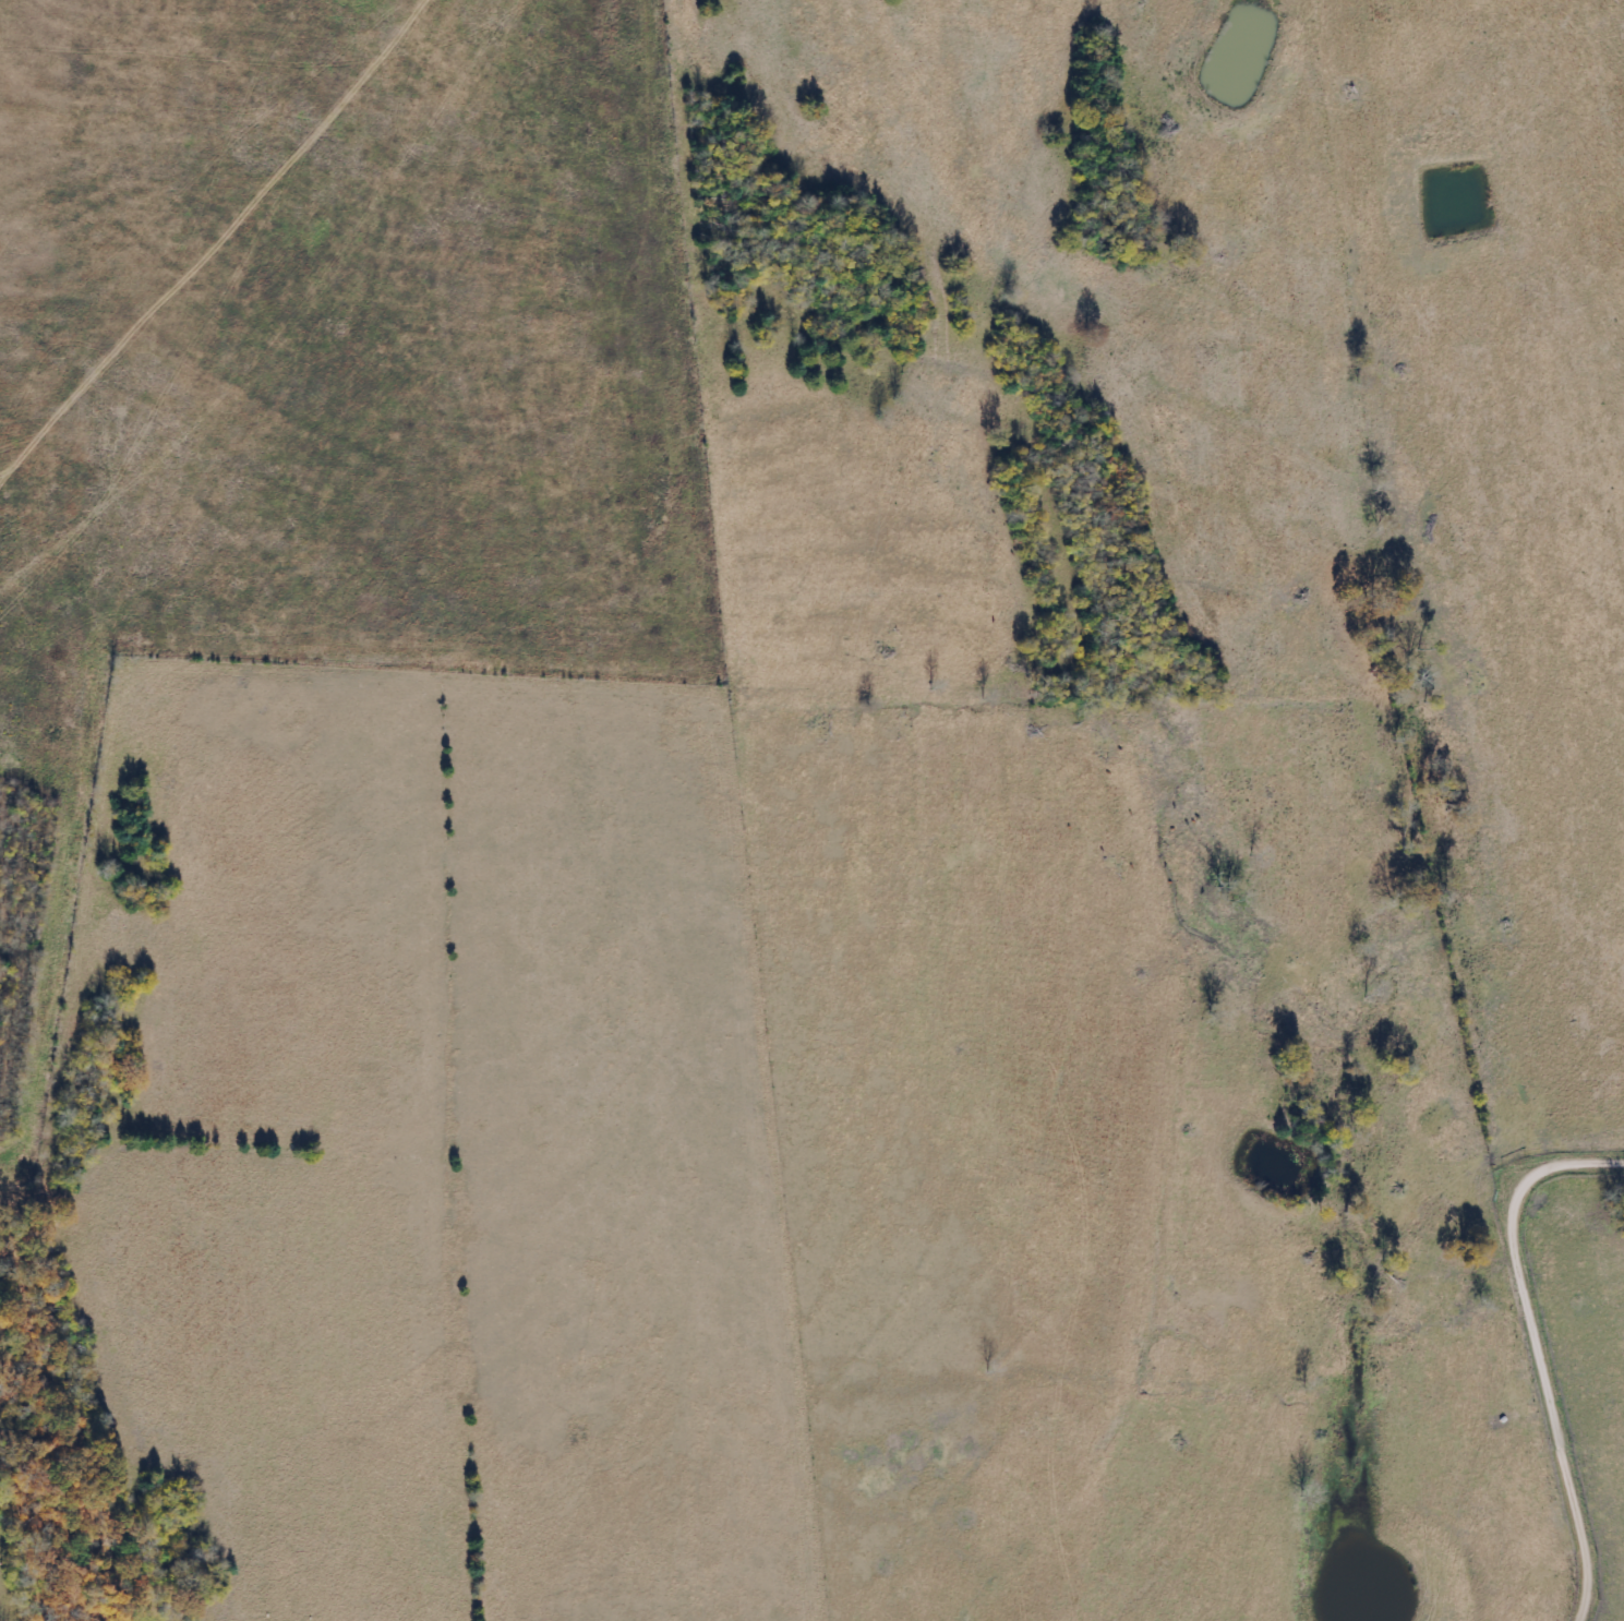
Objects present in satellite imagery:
road: (1543, 1356)

